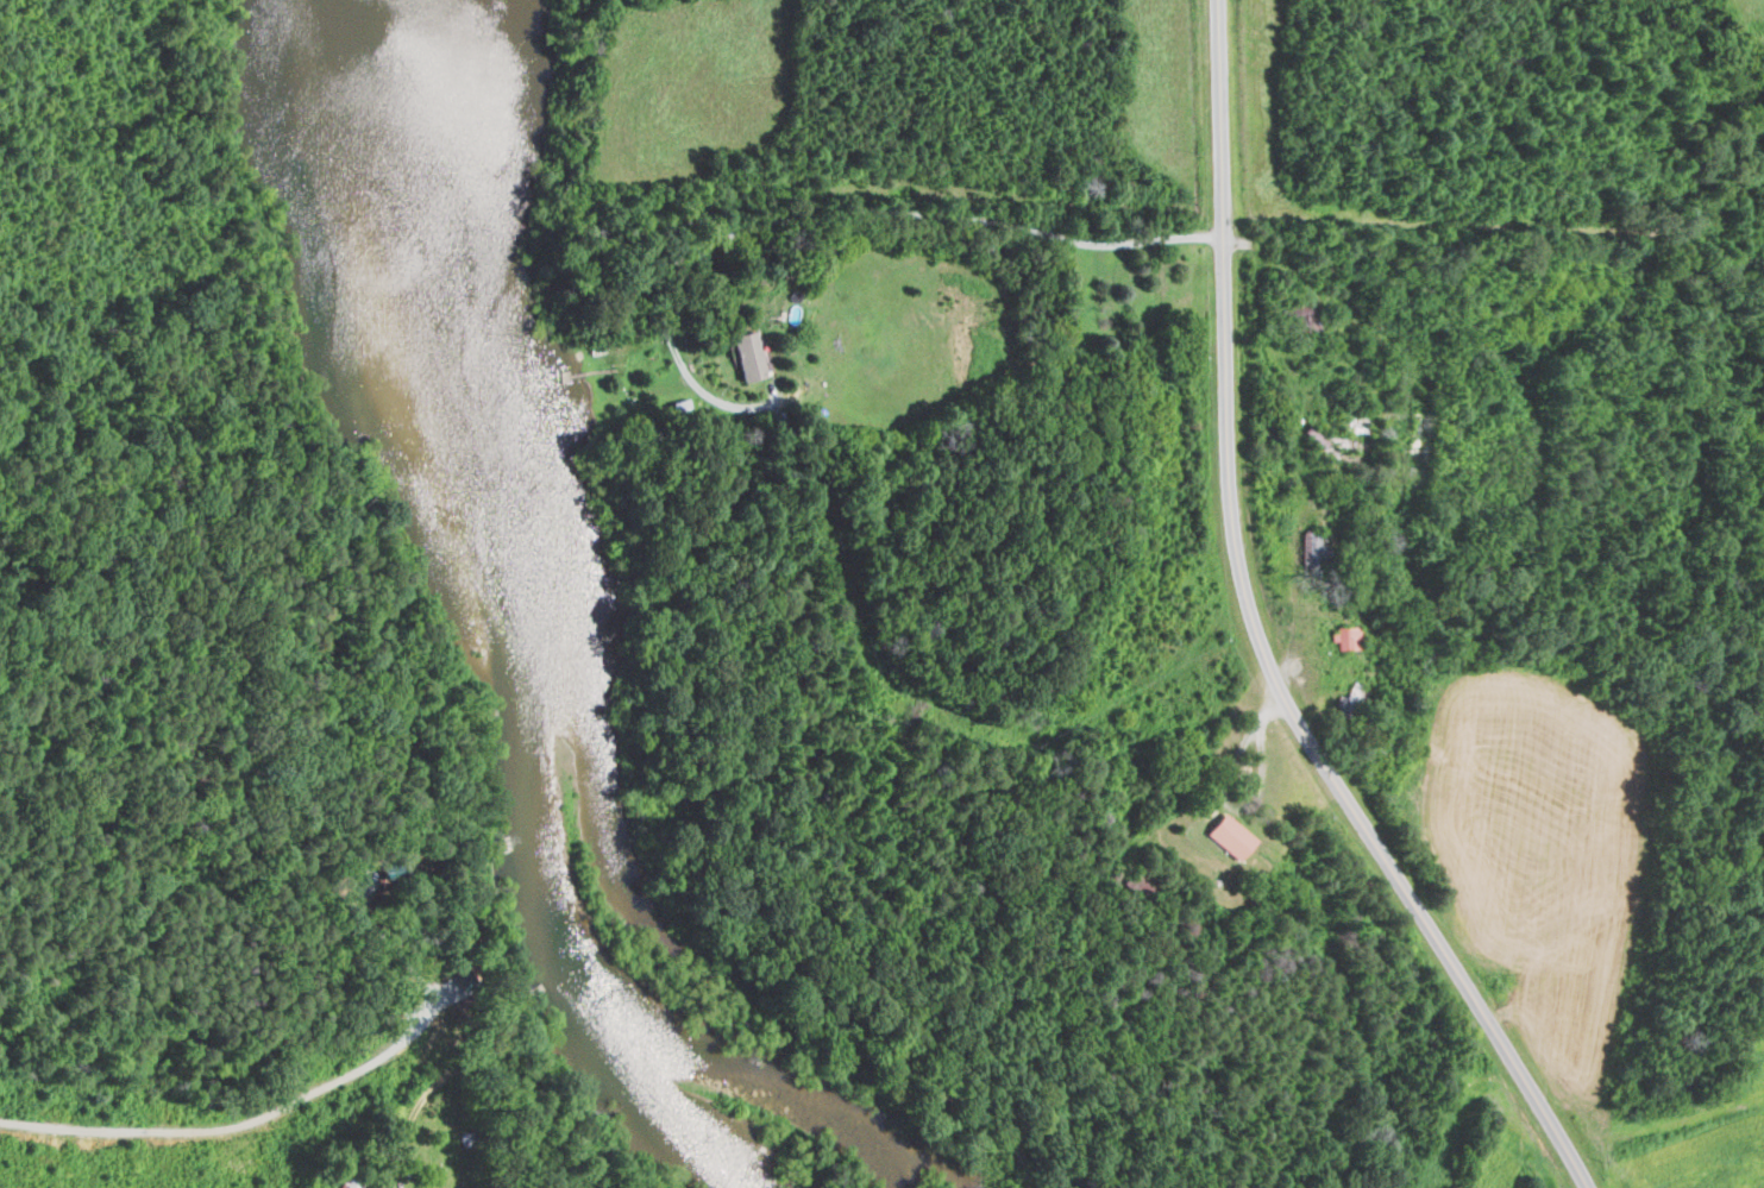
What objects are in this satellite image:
road: (833, 210)
building: (1307, 315)
building: (747, 354)
road: (1260, 637)
building: (1345, 637)
building: (1229, 836)
road: (301, 1096)

